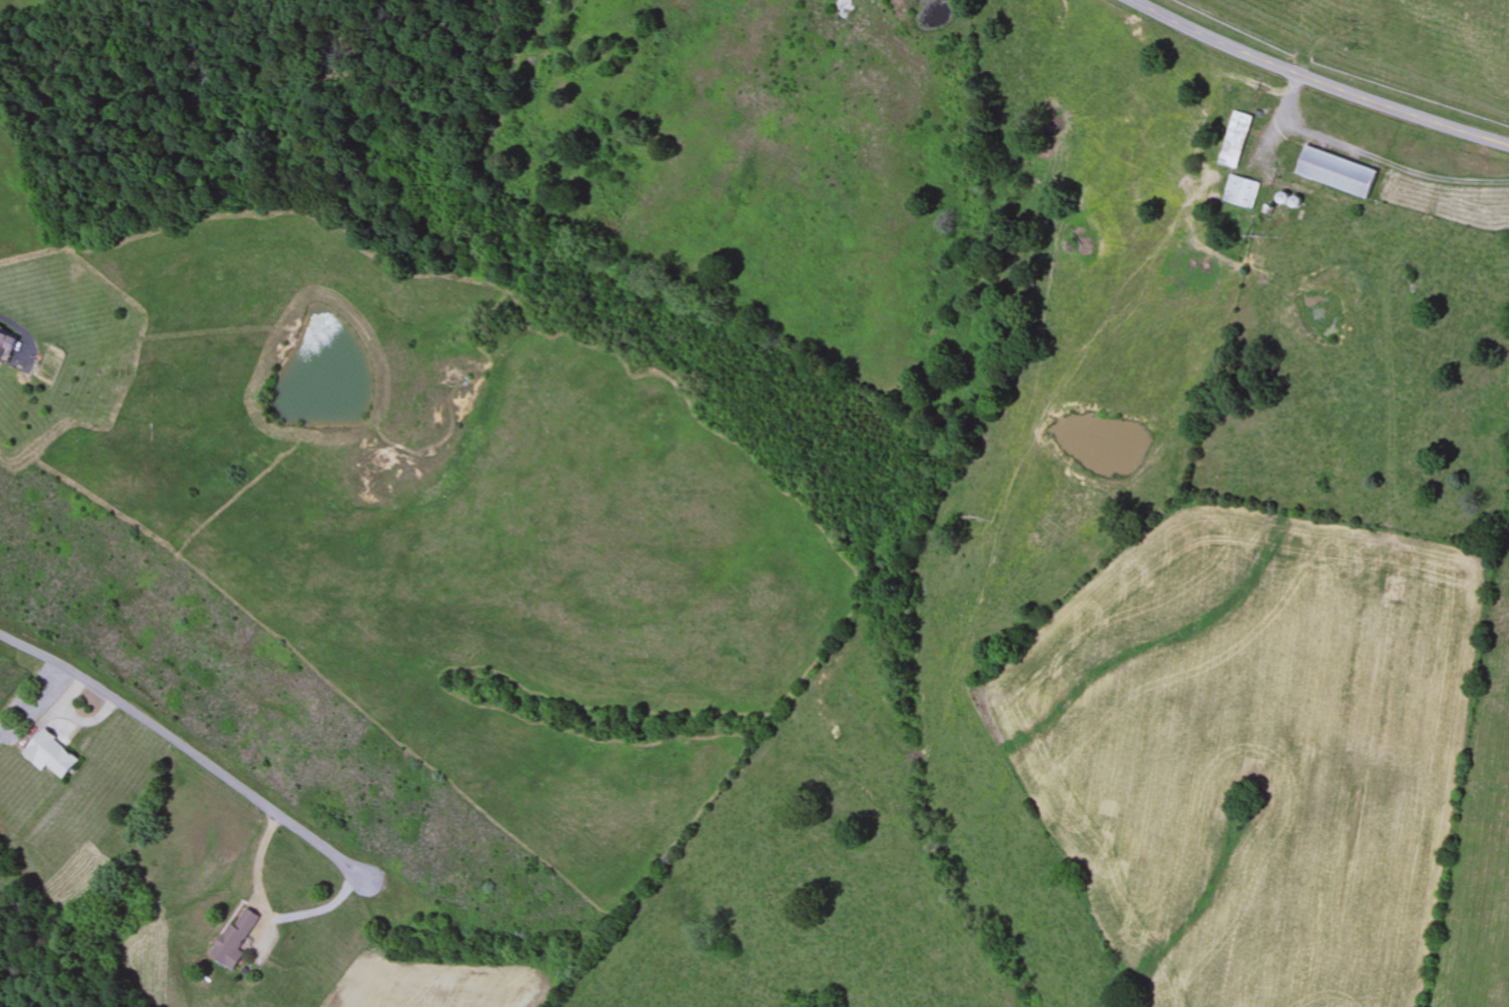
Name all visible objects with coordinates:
road: (1318, 81)
building: (1235, 139)
building: (1338, 172)
building: (1241, 191)
building: (8, 342)
building: (51, 754)
road: (194, 756)
building: (236, 940)
road: (358, 948)

